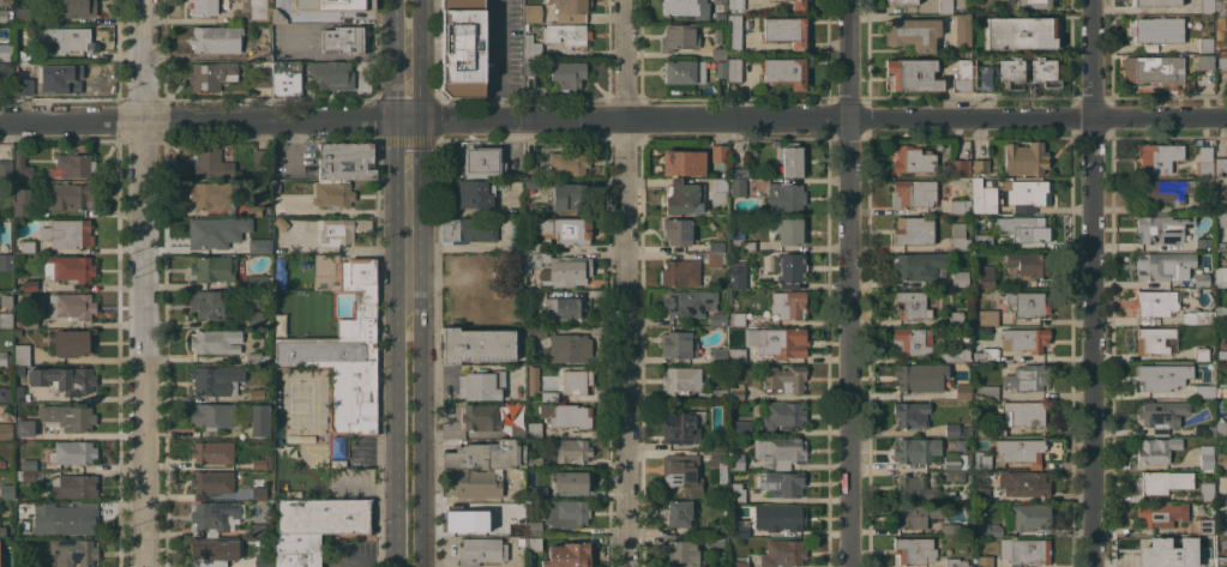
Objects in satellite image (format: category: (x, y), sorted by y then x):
building: (900, 1)
building: (1159, 2)
building: (332, 4)
building: (735, 4)
building: (1033, 4)
building: (798, 5)
building: (945, 6)
building: (1207, 6)
building: (76, 7)
building: (202, 7)
building: (1221, 7)
building: (686, 8)
building: (571, 10)
building: (259, 11)
building: (533, 13)
building: (22, 14)
building: (5, 16)
building: (277, 16)
road: (416, 19)
road: (398, 20)
building: (962, 30)
building: (1159, 30)
building: (786, 31)
building: (733, 32)
building: (912, 32)
building: (1020, 32)
building: (566, 34)
building: (679, 37)
building: (1220, 37)
building: (65, 38)
building: (216, 38)
building: (344, 40)
building: (1205, 44)
building: (462, 47)
building: (531, 47)
building: (6, 52)
building: (718, 53)
building: (257, 54)
building: (23, 55)
road: (500, 59)
building: (1203, 61)
building: (1221, 65)
building: (529, 67)
building: (720, 67)
building: (5, 70)
building: (734, 70)
building: (1155, 70)
building: (23, 71)
building: (684, 71)
building: (786, 71)
building: (1045, 71)
building: (211, 74)
building: (330, 74)
building: (566, 74)
building: (912, 74)
building: (997, 74)
building: (962, 76)
building: (261, 77)
building: (285, 77)
building: (73, 79)
road: (409, 79)
road: (613, 117)
building: (718, 152)
road: (409, 155)
building: (1156, 157)
building: (263, 158)
building: (790, 158)
building: (1024, 158)
building: (913, 159)
building: (345, 161)
building: (480, 161)
building: (1204, 161)
building: (567, 162)
building: (682, 162)
building: (211, 164)
building: (22, 165)
building: (72, 165)
building: (980, 167)
building: (1220, 167)
building: (957, 168)
building: (6, 169)
building: (530, 170)
building: (738, 171)
building: (531, 183)
building: (736, 186)
building: (276, 187)
building: (1163, 189)
building: (718, 191)
building: (257, 192)
building: (476, 193)
building: (912, 193)
building: (333, 194)
building: (1027, 194)
building: (70, 195)
building: (213, 197)
building: (567, 197)
building: (982, 197)
building: (784, 198)
building: (681, 199)
building: (20, 201)
building: (1203, 204)
building: (958, 206)
building: (1221, 206)
building: (1221, 219)
building: (281, 223)
building: (1024, 228)
building: (1162, 228)
building: (468, 229)
building: (565, 229)
building: (339, 230)
building: (787, 230)
building: (676, 231)
building: (913, 231)
building: (67, 233)
building: (209, 233)
building: (736, 235)
building: (958, 237)
building: (982, 241)
building: (1202, 242)
building: (1219, 243)
building: (7, 245)
building: (258, 245)
building: (28, 246)
building: (533, 246)
building: (716, 246)
building: (747, 246)
road: (347, 248)
building: (714, 260)
building: (531, 261)
building: (1028, 263)
building: (1163, 265)
building: (919, 266)
building: (68, 269)
building: (213, 269)
building: (787, 270)
building: (566, 271)
building: (681, 272)
building: (1221, 276)
building: (735, 277)
building: (985, 277)
building: (1201, 279)
building: (958, 281)
building: (259, 282)
road: (143, 283)
road: (624, 283)
road: (848, 283)
road: (1091, 283)
building: (30, 285)
building: (531, 294)
building: (686, 302)
building: (1155, 303)
building: (72, 304)
building: (209, 304)
building: (788, 304)
building: (912, 304)
building: (1025, 304)
building: (565, 307)
building: (6, 310)
building: (1221, 313)
building: (987, 316)
building: (1197, 316)
building: (738, 318)
building: (956, 318)
building: (255, 319)
building: (718, 319)
building: (26, 321)
building: (1024, 339)
building: (216, 340)
building: (776, 340)
building: (1157, 340)
building: (72, 342)
building: (910, 342)
building: (477, 344)
building: (563, 344)
building: (678, 345)
building: (22, 354)
building: (344, 354)
building: (986, 354)
building: (1204, 354)
building: (720, 355)
building: (736, 355)
building: (954, 355)
building: (2, 357)
building: (253, 357)
building: (19, 369)
building: (1161, 375)
building: (919, 376)
building: (533, 378)
building: (784, 378)
building: (1027, 378)
building: (64, 379)
building: (217, 379)
road: (410, 379)
building: (681, 379)
building: (576, 381)
building: (481, 385)
building: (962, 391)
building: (1203, 391)
building: (1221, 391)
building: (736, 392)
building: (987, 392)
building: (5, 393)
building: (19, 393)
building: (258, 393)
building: (720, 393)
building: (703, 394)
building: (549, 396)
building: (912, 414)
building: (566, 415)
building: (783, 415)
building: (1161, 415)
building: (212, 416)
building: (1017, 416)
building: (67, 417)
building: (481, 417)
building: (259, 420)
building: (679, 427)
building: (741, 427)
building: (1221, 428)
building: (517, 429)
building: (534, 429)
building: (957, 429)
building: (1198, 429)
building: (6, 430)
building: (1211, 430)
building: (25, 433)
building: (717, 444)
building: (915, 450)
building: (1156, 450)
building: (572, 451)
building: (777, 451)
building: (1021, 451)
building: (1220, 451)
building: (74, 452)
building: (212, 452)
building: (487, 454)
building: (1205, 457)
building: (735, 460)
building: (982, 460)
building: (956, 462)
building: (261, 463)
building: (535, 463)
building: (717, 463)
building: (2, 464)
building: (28, 464)
building: (681, 473)
building: (24, 475)
building: (951, 475)
building: (572, 481)
building: (1165, 481)
building: (211, 483)
building: (477, 483)
building: (786, 483)
building: (1023, 483)
building: (77, 485)
building: (914, 488)
building: (1204, 490)
building: (7, 491)
building: (536, 491)
building: (980, 491)
building: (259, 493)
building: (738, 493)
building: (24, 507)
building: (563, 512)
building: (1162, 513)
building: (679, 514)
building: (916, 514)
building: (213, 517)
building: (323, 517)
building: (778, 517)
building: (1030, 517)
building: (67, 520)
building: (475, 521)
building: (1205, 526)
building: (534, 527)
building: (257, 529)
building: (720, 529)
building: (739, 529)
building: (950, 529)
building: (19, 530)
building: (2, 531)
building: (993, 531)
building: (718, 541)
building: (533, 543)
building: (1202, 547)
building: (1155, 549)
building: (296, 550)
building: (481, 550)
building: (913, 550)
building: (1025, 550)
building: (73, 551)
building: (211, 551)
building: (680, 551)
building: (782, 553)
building: (569, 555)
building: (263, 560)
building: (984, 560)
building: (739, 561)
building: (1204, 561)
building: (1221, 561)
building: (956, 562)
building: (6, 563)
building: (31, 565)

